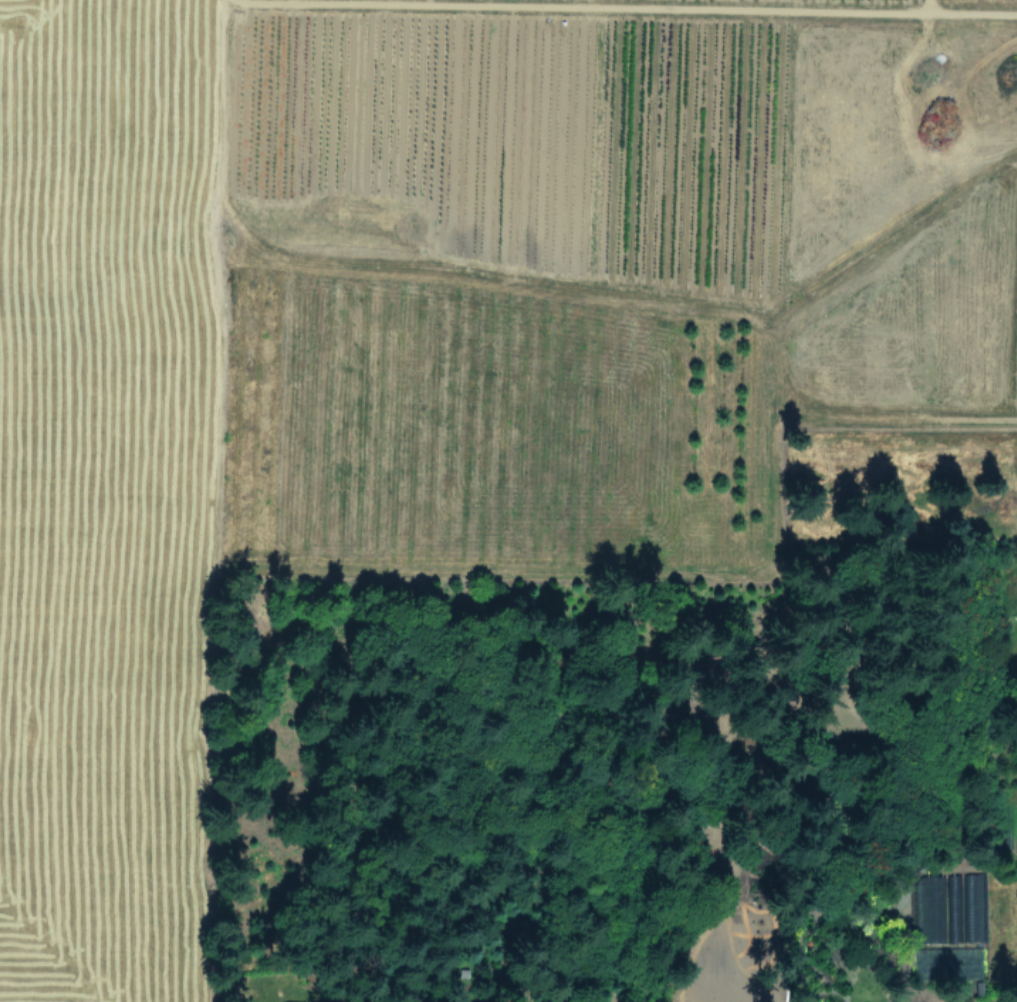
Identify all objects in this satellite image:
crop: (446, 332)
building: (972, 906)
building: (952, 907)
building: (931, 908)
building: (302, 1001)

